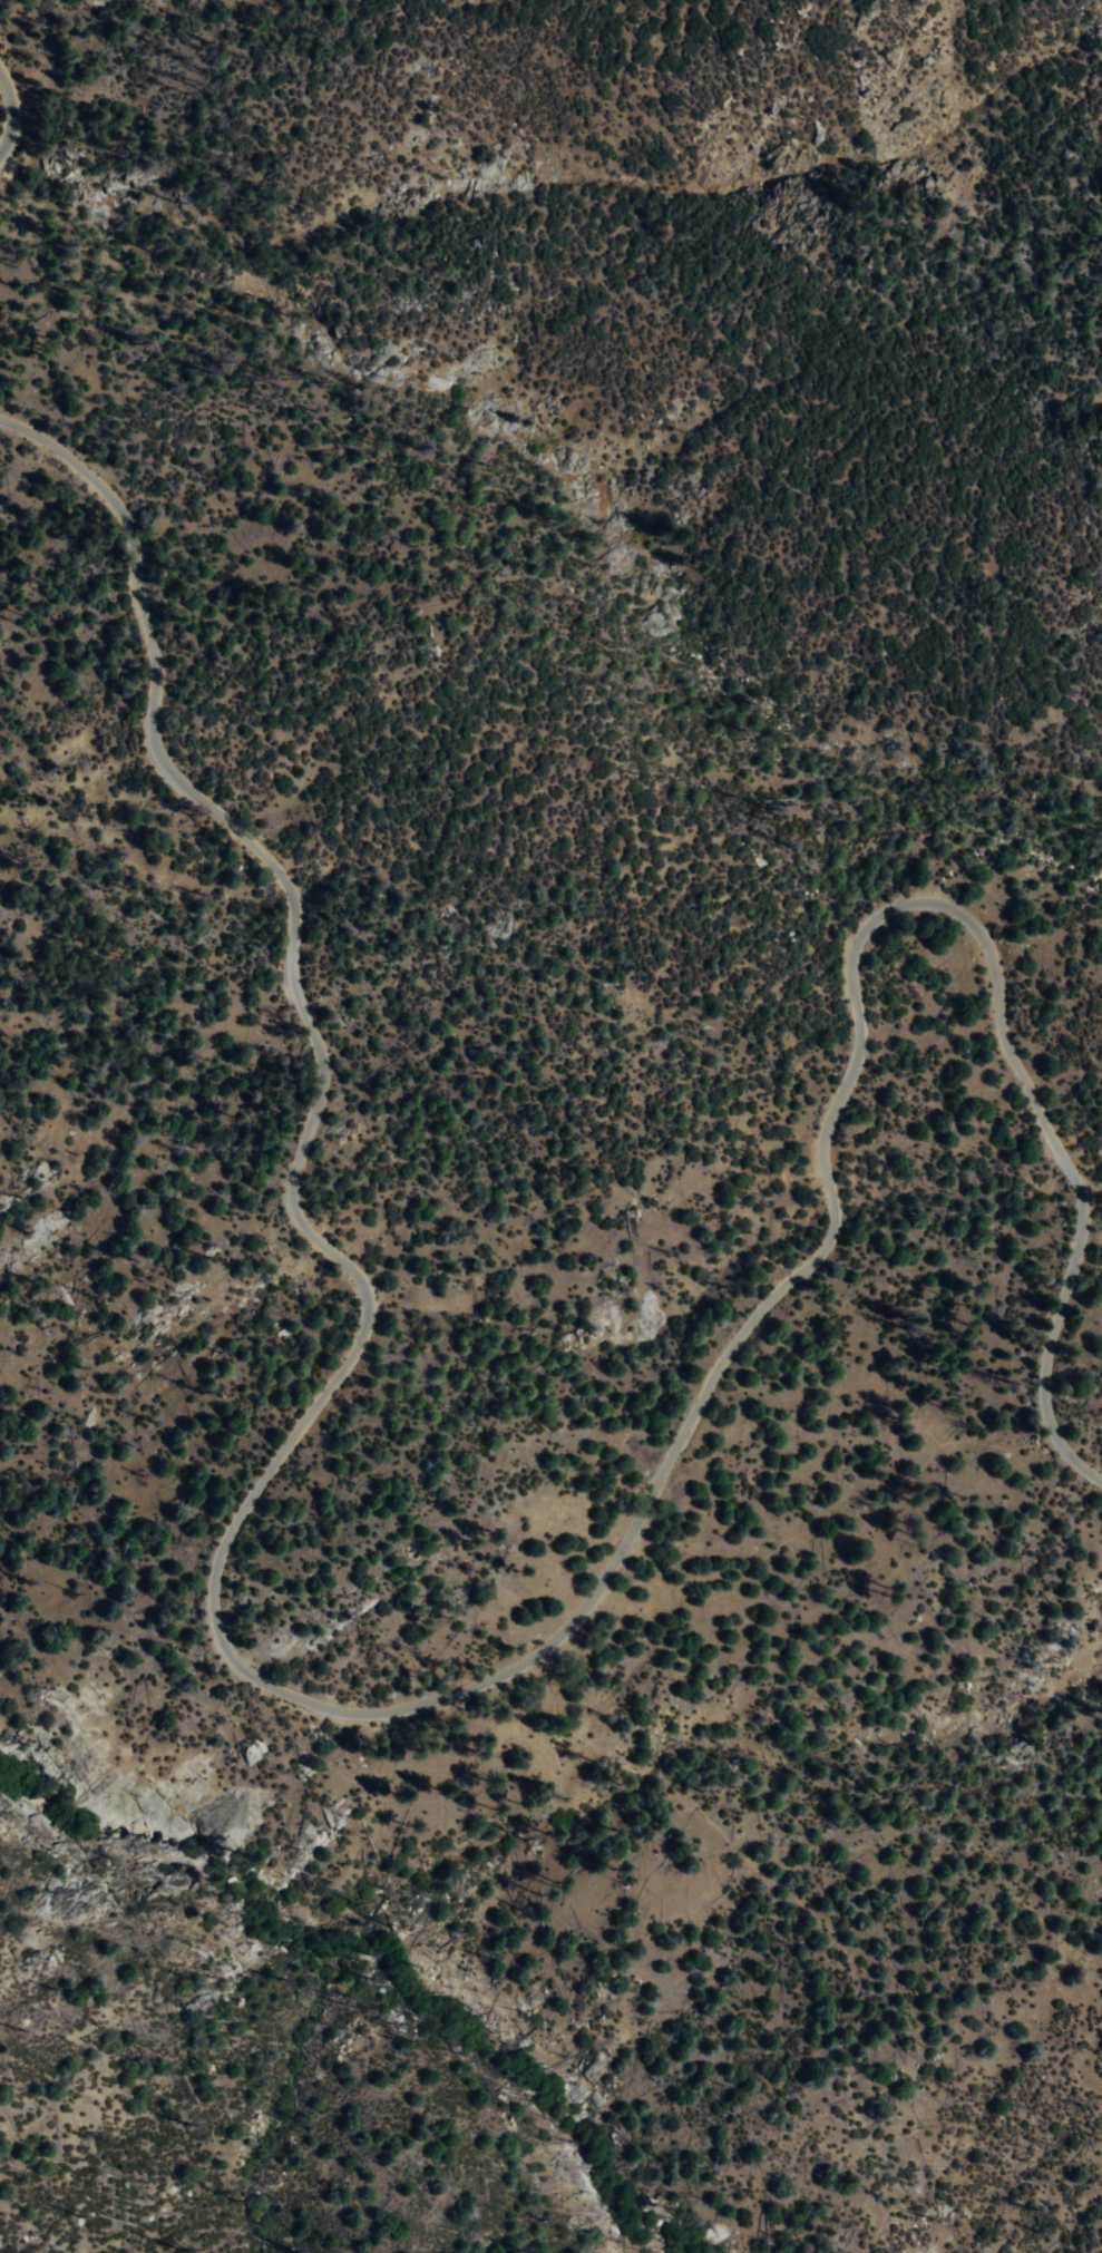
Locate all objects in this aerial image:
road: (13, 109)
road: (442, 1698)

